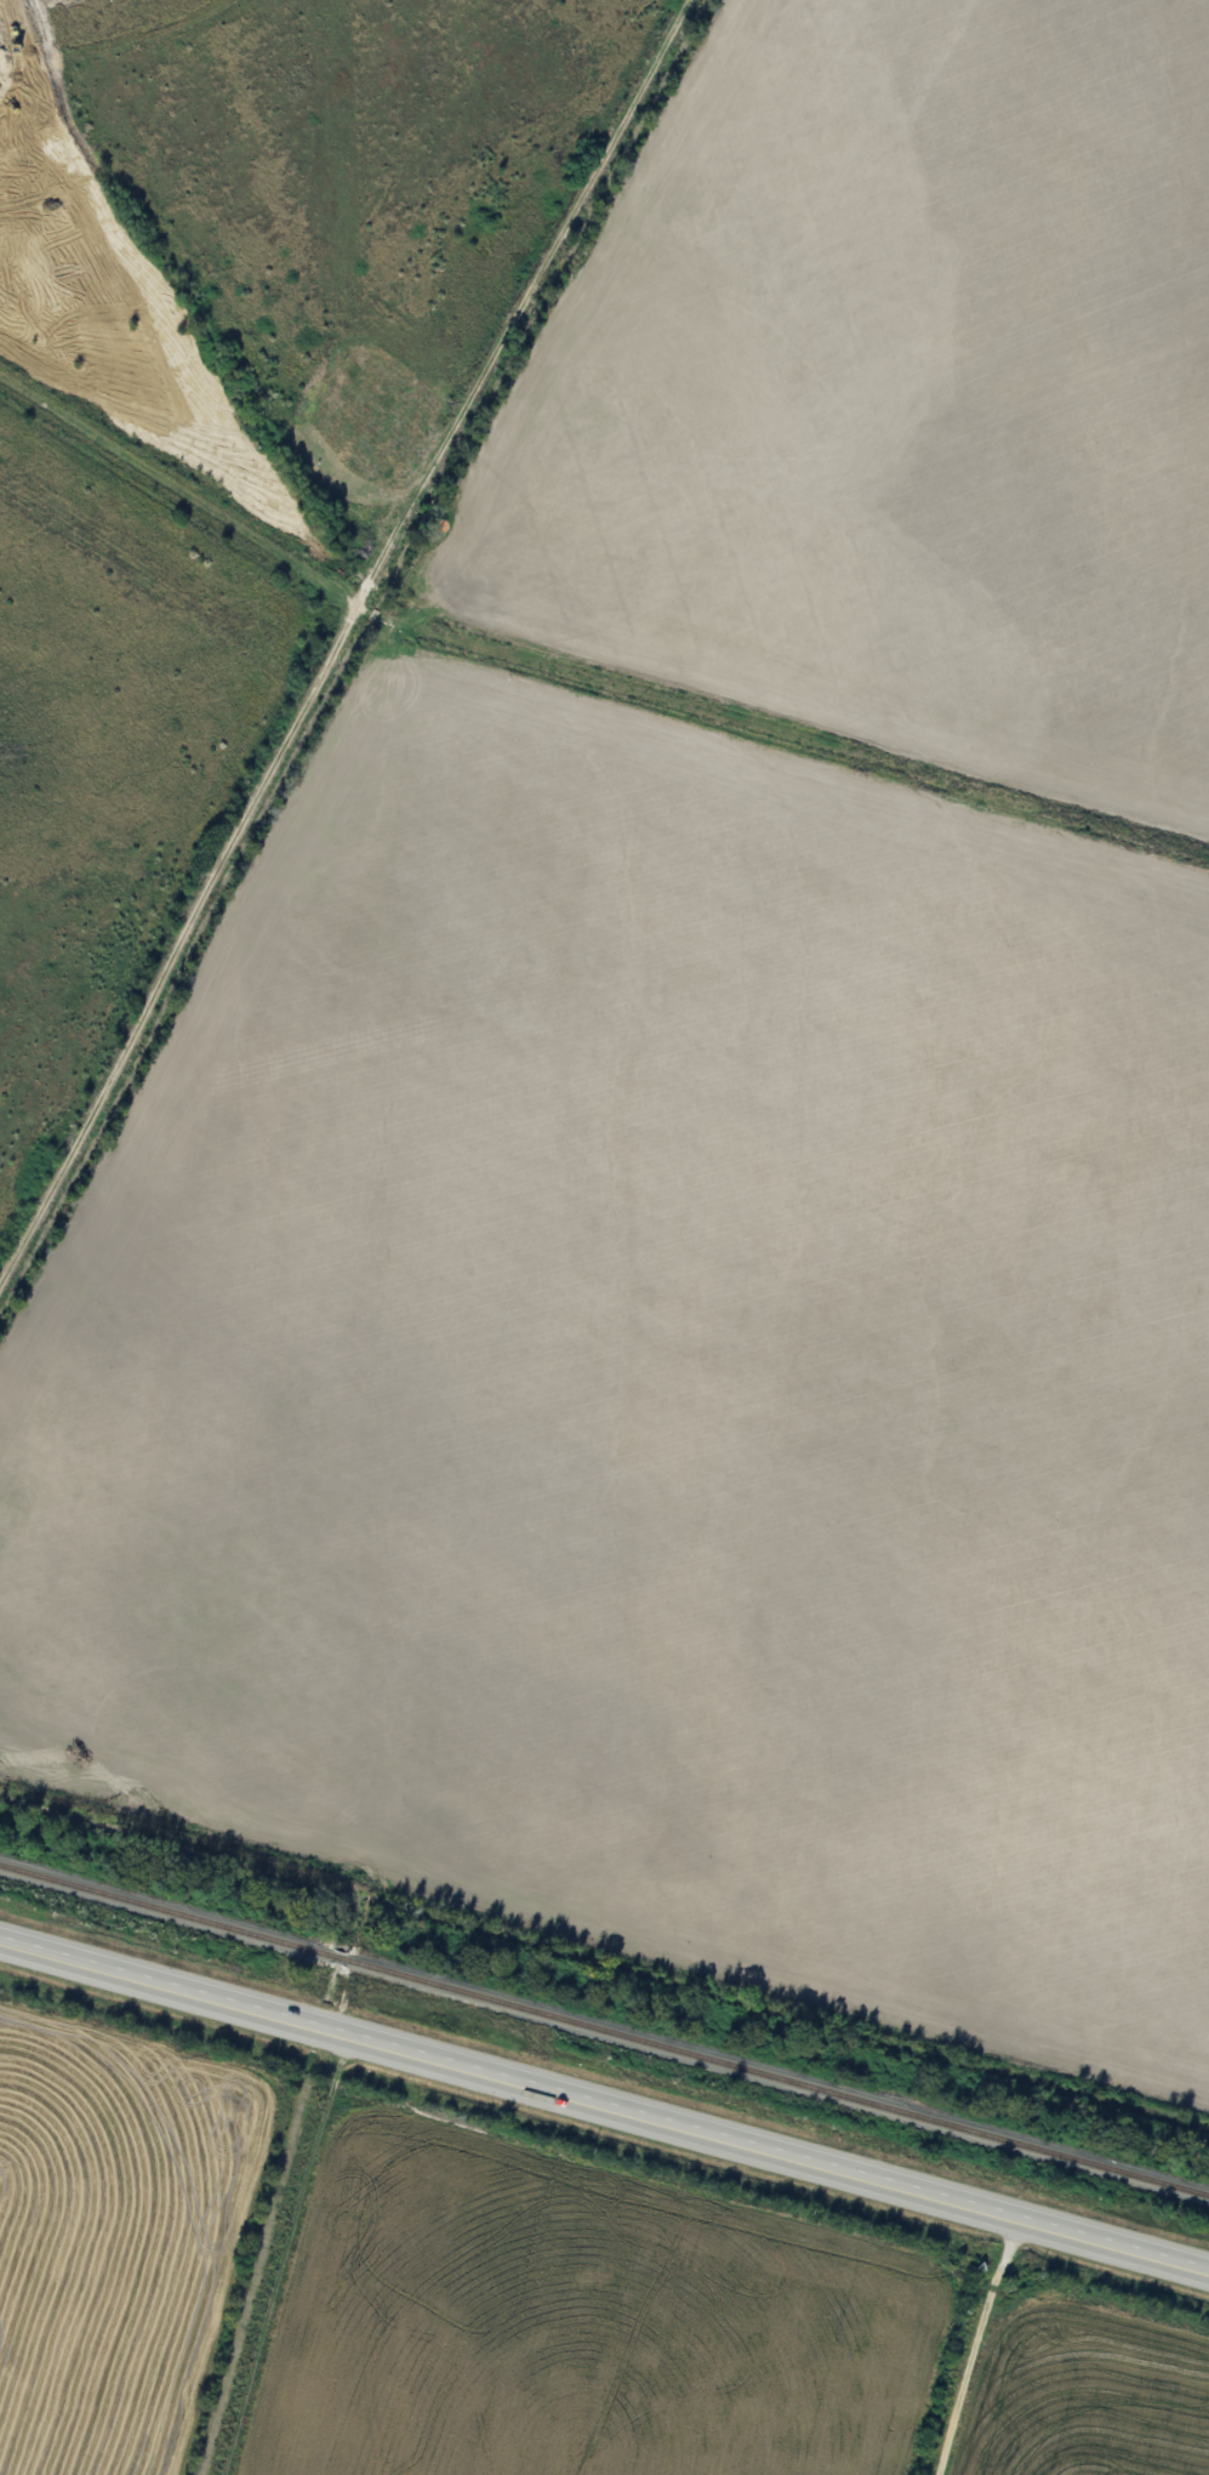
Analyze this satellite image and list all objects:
road: (444, 495)
road: (179, 945)
railway: (161, 1912)
railway: (329, 1958)
railway: (771, 2079)
road: (604, 2104)
road: (968, 2344)

